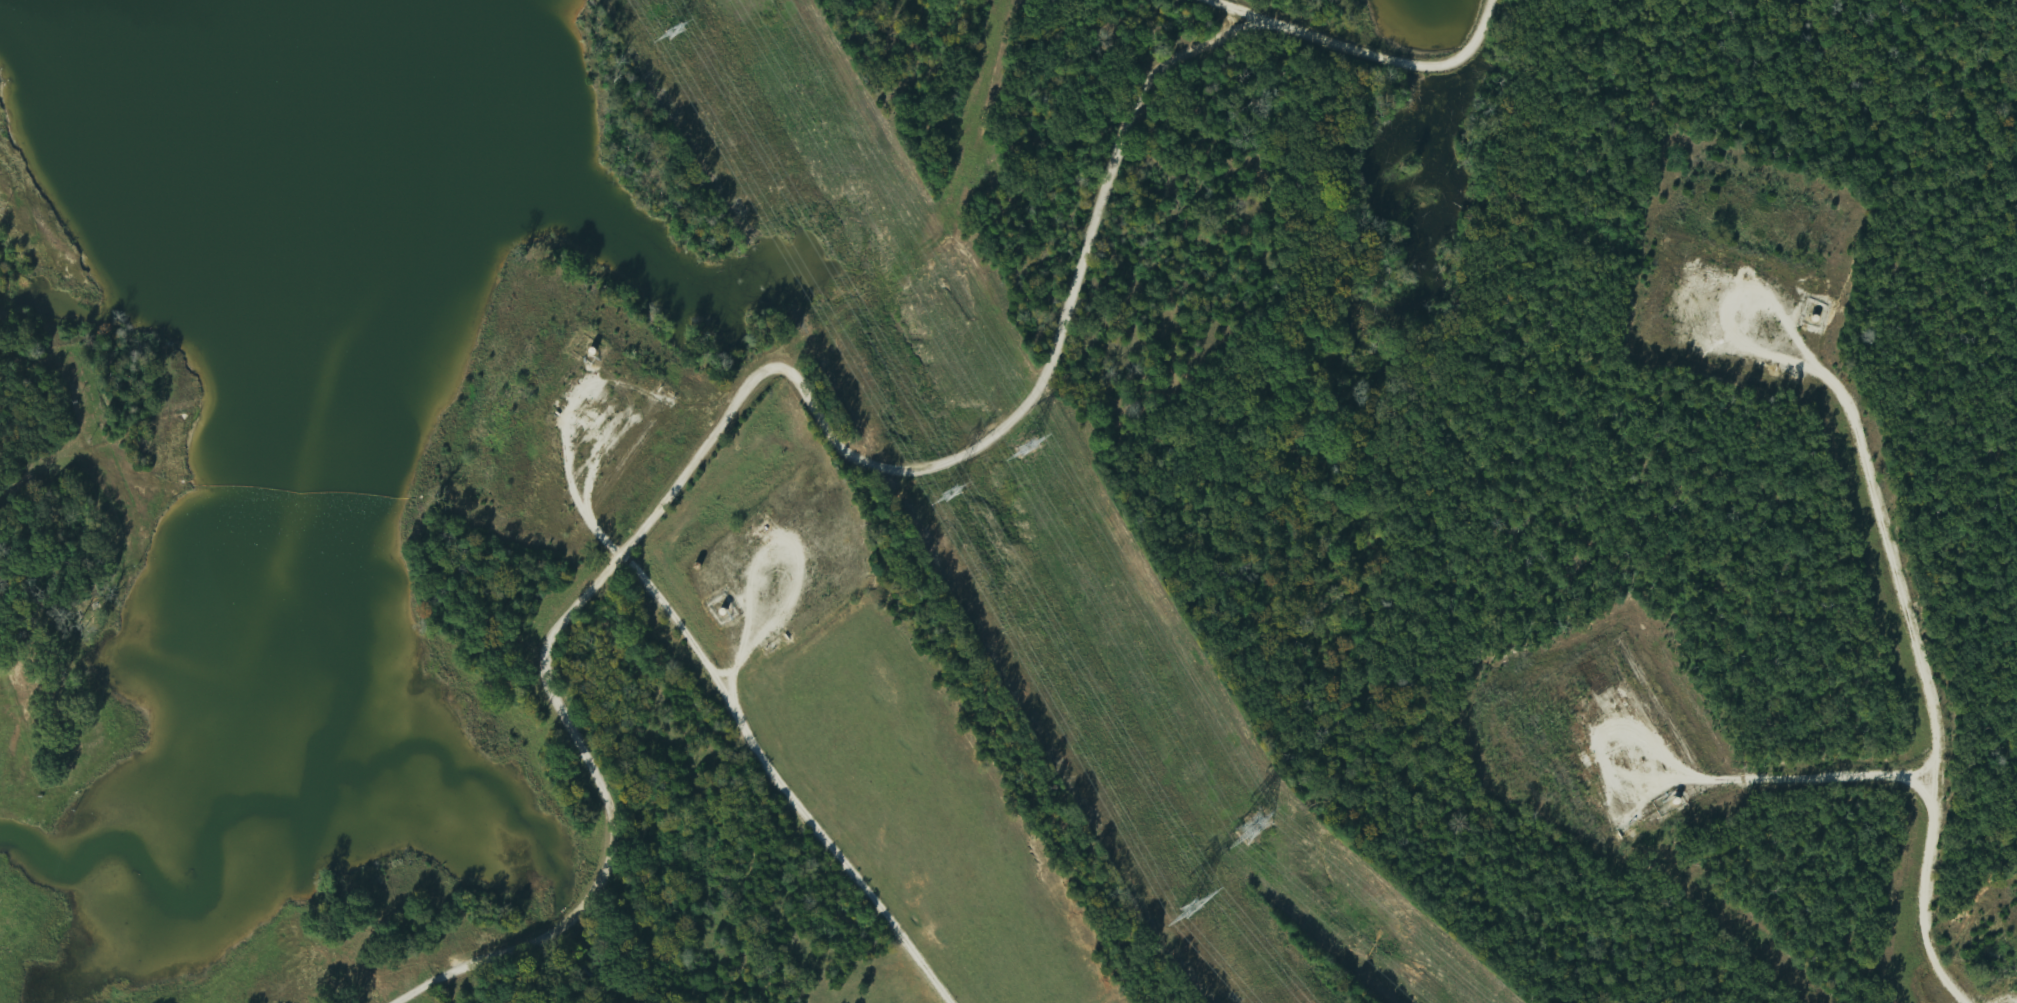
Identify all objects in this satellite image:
power tower: (666, 30)
power tower: (1020, 450)
road: (1449, 458)
power tower: (940, 495)
power plant: (9, 587)
power tower: (1248, 825)
power tower: (1184, 906)

